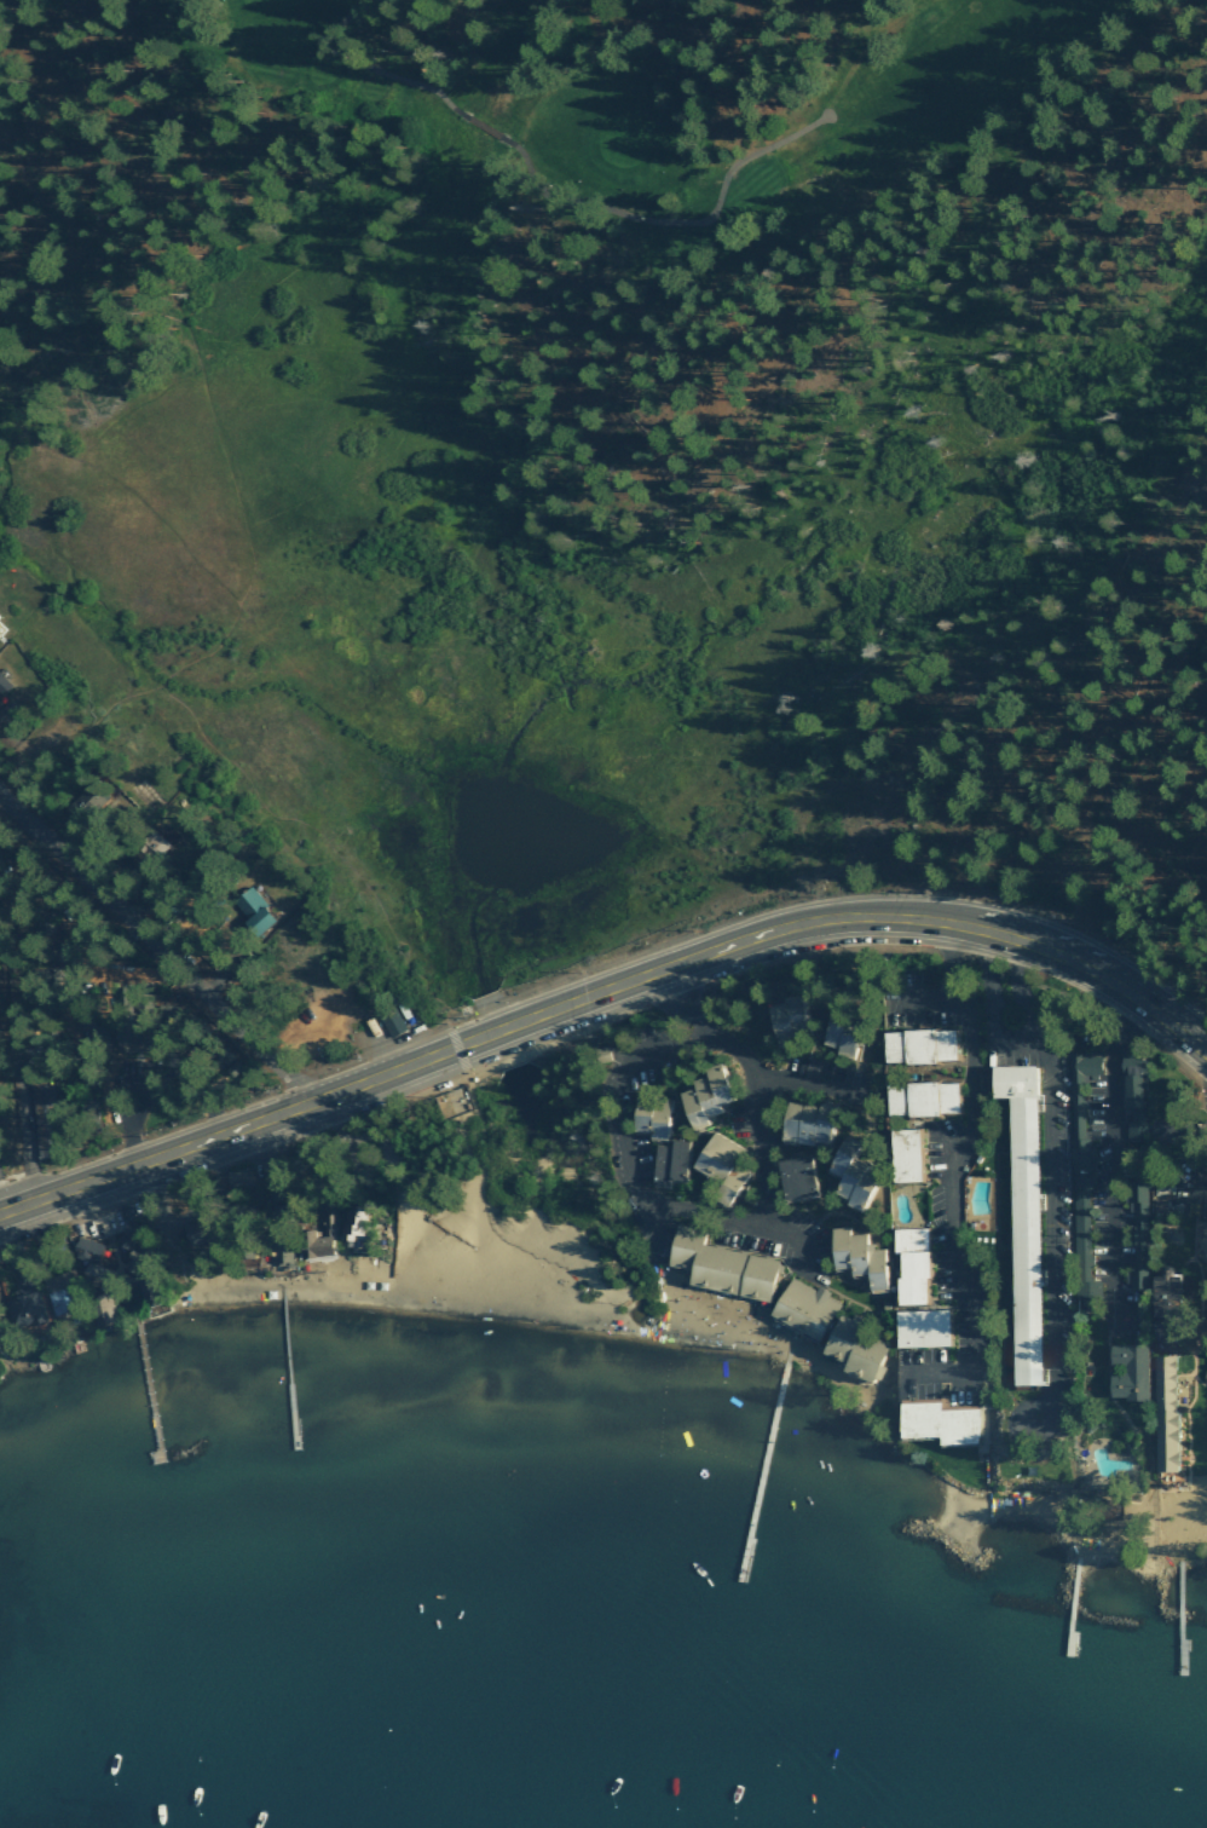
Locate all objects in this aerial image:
road: (339, 60)
road: (446, 102)
park: (643, 109)
road: (484, 126)
road: (676, 221)
road: (214, 422)
road: (126, 483)
building: (4, 685)
building: (252, 907)
road: (157, 955)
road: (1137, 997)
building: (784, 1015)
building: (392, 1022)
road: (524, 1027)
building: (131, 1034)
building: (838, 1034)
road: (1009, 1039)
road: (686, 1040)
building: (917, 1044)
building: (1084, 1065)
road: (146, 1085)
road: (809, 1086)
road: (198, 1089)
building: (703, 1095)
building: (41, 1097)
building: (919, 1097)
building: (1131, 1098)
road: (618, 1115)
building: (652, 1118)
building: (804, 1121)
building: (1162, 1130)
road: (762, 1148)
building: (903, 1154)
road: (1110, 1158)
building: (668, 1161)
building: (720, 1169)
building: (848, 1174)
road: (948, 1175)
building: (795, 1176)
building: (236, 1178)
building: (1020, 1216)
road: (0, 1218)
park: (461, 1222)
building: (350, 1224)
road: (1051, 1230)
building: (1137, 1238)
building: (310, 1244)
building: (243, 1250)
building: (855, 1256)
building: (87, 1259)
building: (908, 1264)
building: (718, 1265)
building: (56, 1291)
building: (1162, 1292)
building: (22, 1304)
building: (100, 1308)
building: (803, 1308)
building: (919, 1327)
building: (854, 1349)
pier: (288, 1367)
building: (1126, 1371)
pier: (150, 1389)
building: (1163, 1413)
building: (937, 1422)
pier: (764, 1463)
pier: (1076, 1603)
pier: (1179, 1617)

